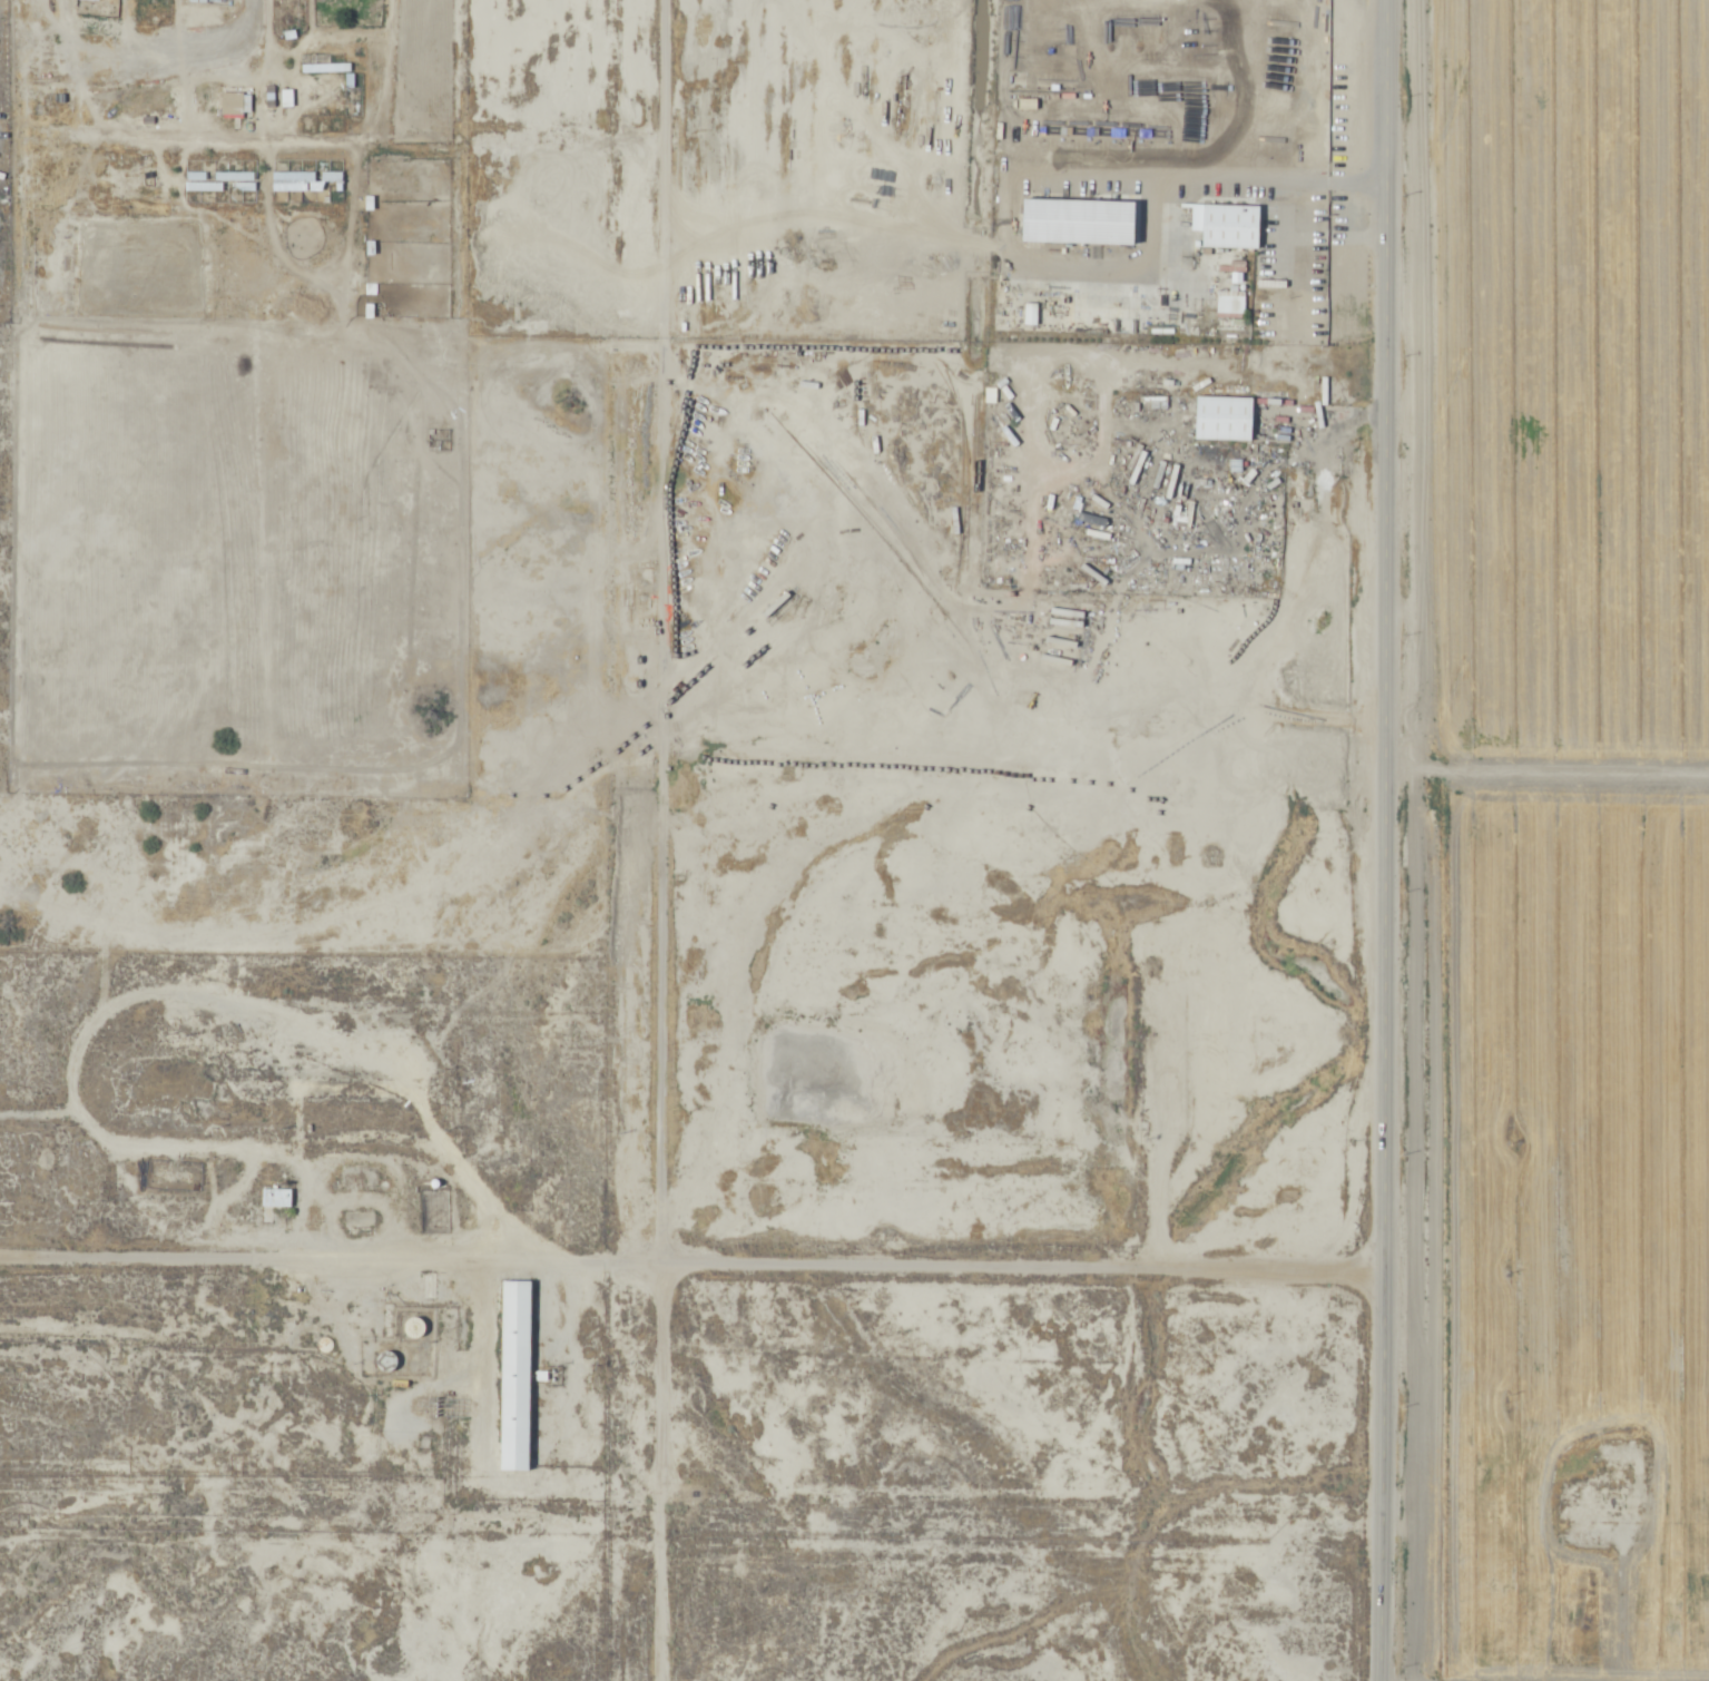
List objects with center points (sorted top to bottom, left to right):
road: (151, 48)
building: (322, 68)
building: (232, 104)
building: (321, 119)
building: (58, 135)
road: (1038, 178)
road: (1157, 179)
building: (220, 181)
building: (307, 181)
building: (1230, 227)
building: (53, 265)
building: (1224, 420)
building: (1216, 455)
road: (1550, 774)
crop: (1540, 836)
road: (665, 839)
road: (1391, 840)
building: (276, 1199)
road: (691, 1270)
building: (515, 1376)

